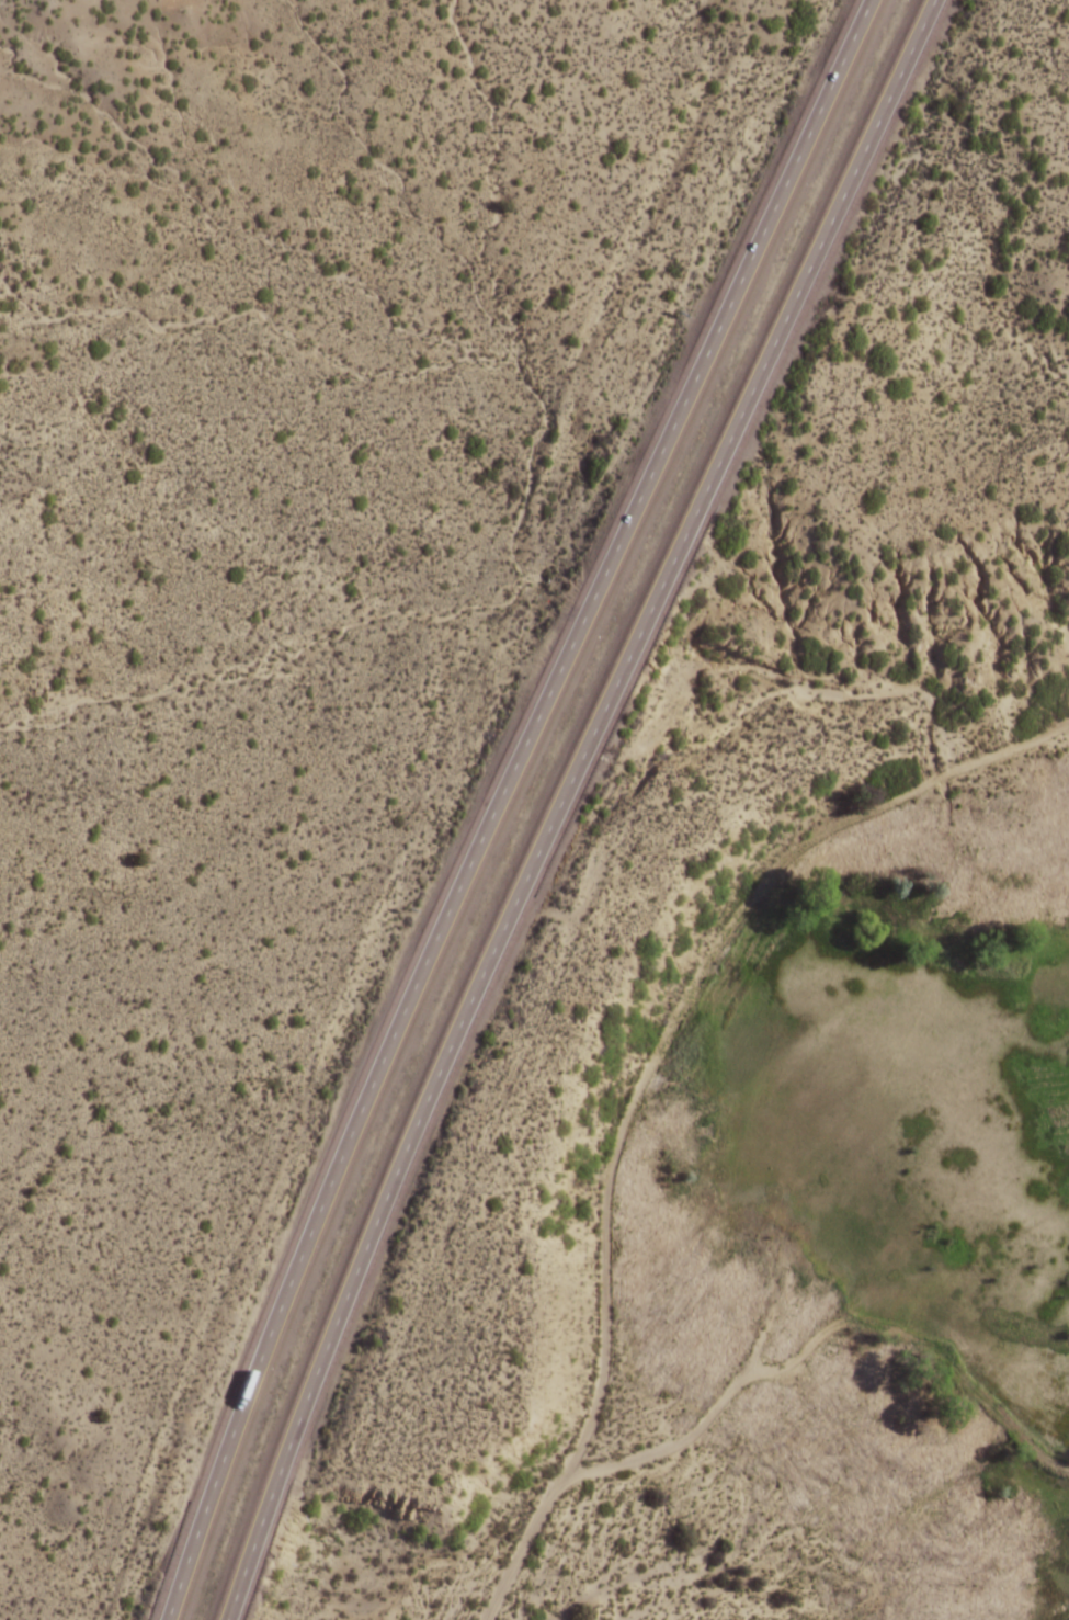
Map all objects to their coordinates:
road: (498, 801)
road: (560, 801)
road: (679, 1006)
road: (951, 1362)
road: (627, 1461)

